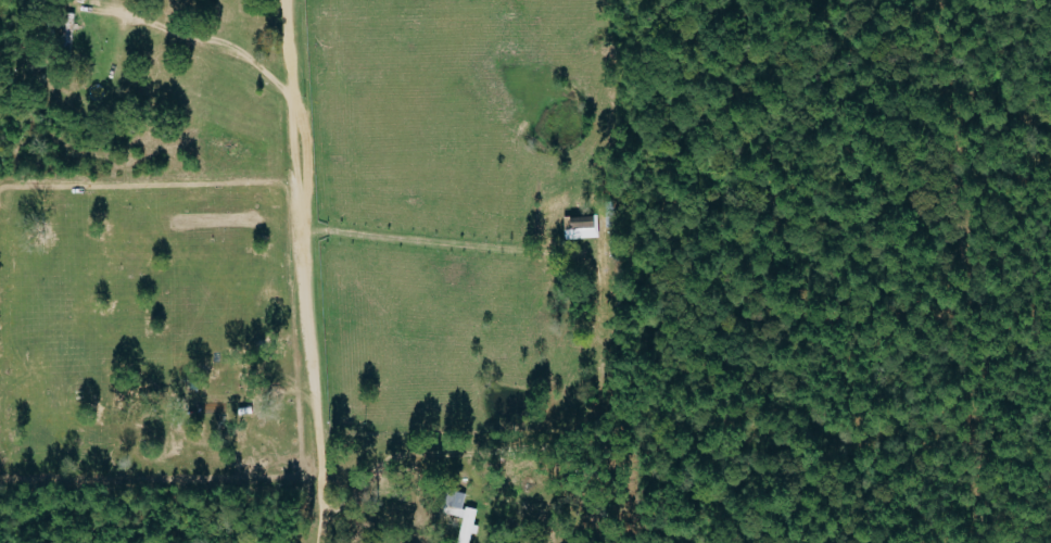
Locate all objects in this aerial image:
road: (208, 43)
building: (588, 224)
road: (448, 243)
road: (302, 271)
building: (464, 515)

